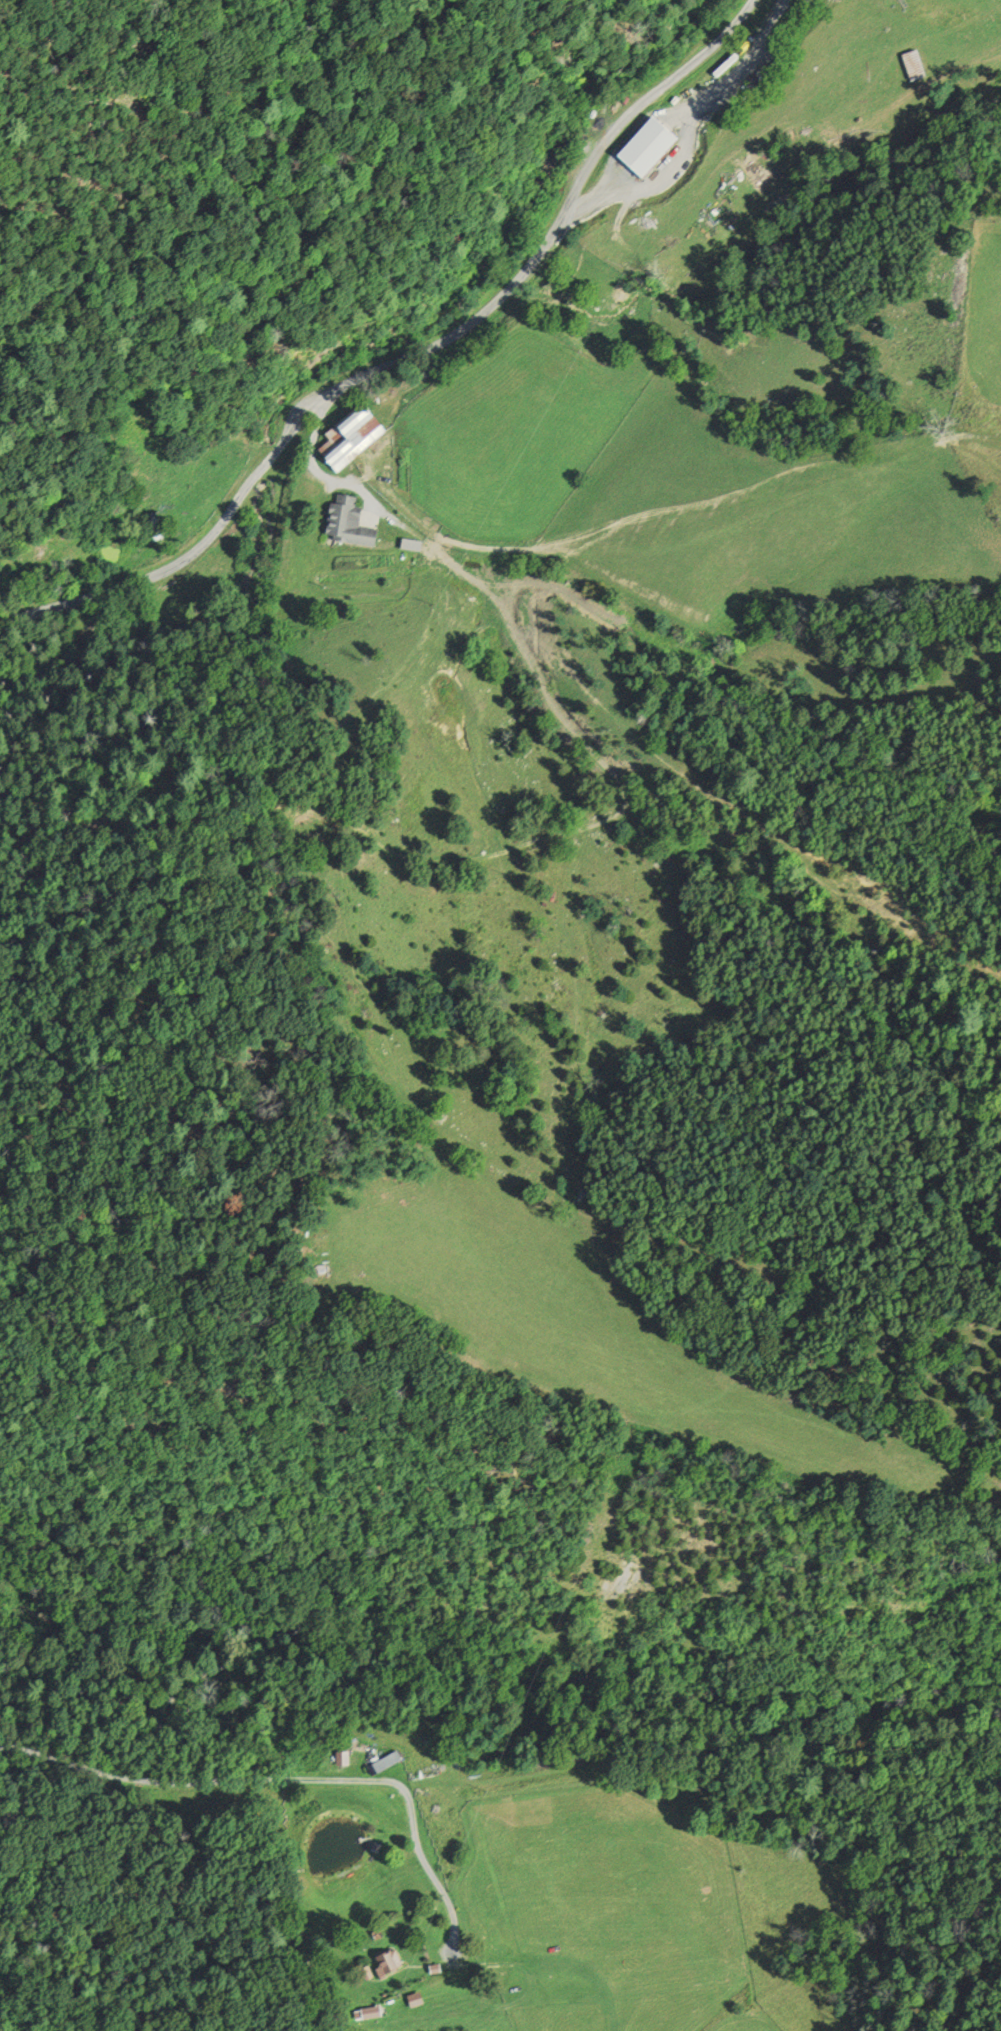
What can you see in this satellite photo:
building: (912, 66)
road: (691, 139)
building: (651, 147)
road: (406, 353)
building: (358, 439)
road: (333, 479)
building: (352, 523)
building: (160, 529)
building: (414, 544)
building: (387, 1762)
road: (284, 1780)
building: (388, 1960)
building: (436, 1969)
building: (370, 2013)

